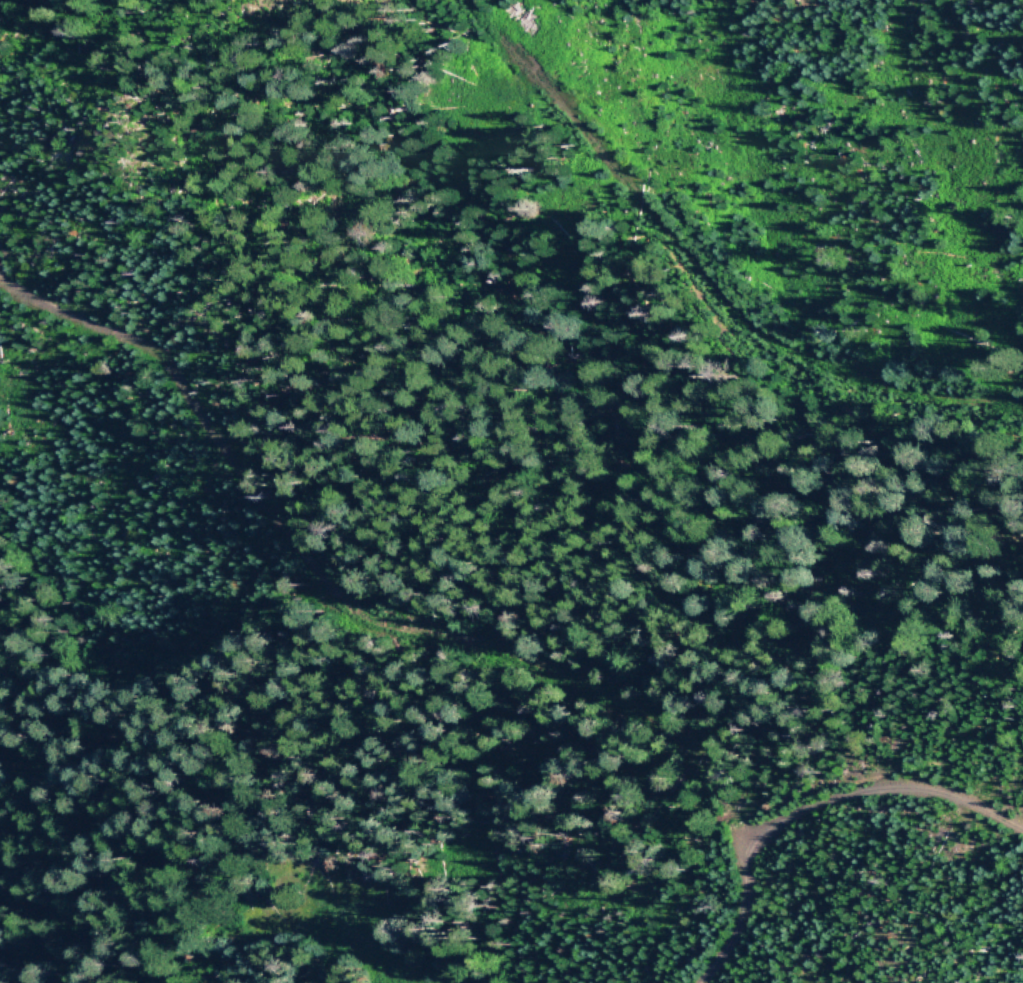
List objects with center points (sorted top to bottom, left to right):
road: (696, 275)
road: (361, 606)
road: (806, 801)

